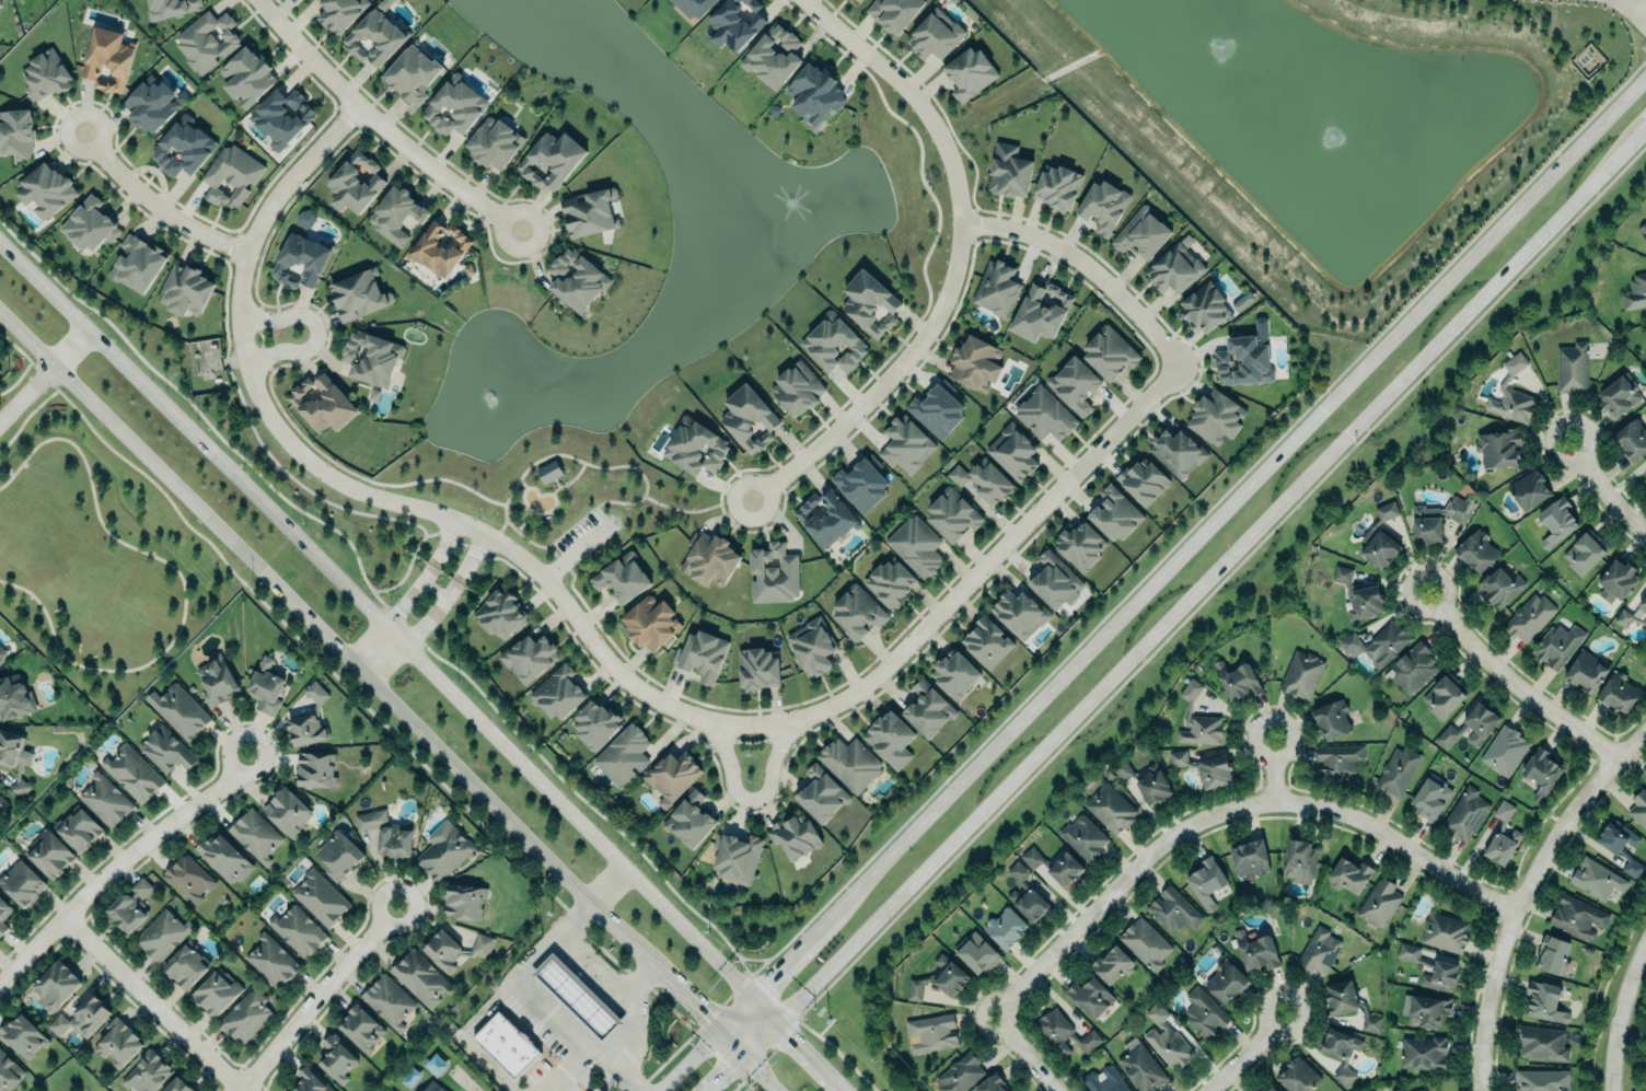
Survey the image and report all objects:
building: (857, 0)
building: (692, 7)
building: (171, 8)
road: (1635, 11)
building: (340, 12)
building: (893, 13)
building: (734, 23)
building: (935, 32)
building: (374, 35)
building: (206, 40)
fountain: (1212, 44)
building: (772, 53)
building: (107, 60)
building: (969, 72)
building: (410, 73)
building: (247, 74)
building: (44, 76)
building: (813, 92)
road: (912, 92)
building: (151, 103)
building: (454, 106)
building: (281, 117)
road: (378, 123)
fountain: (1310, 130)
building: (16, 132)
road: (1633, 138)
building: (492, 143)
building: (183, 146)
building: (549, 160)
road: (289, 167)
building: (1009, 170)
building: (230, 176)
building: (355, 183)
building: (1057, 186)
building: (46, 188)
road: (155, 202)
building: (1103, 205)
building: (589, 212)
building: (395, 213)
building: (304, 219)
building: (89, 224)
building: (1643, 230)
building: (1141, 232)
building: (440, 248)
building: (301, 258)
building: (137, 264)
road: (1080, 265)
building: (1174, 268)
building: (576, 278)
building: (185, 288)
building: (997, 288)
building: (1635, 292)
building: (358, 293)
building: (1242, 301)
building: (869, 303)
building: (1204, 305)
building: (1040, 312)
road: (314, 329)
building: (834, 345)
building: (1109, 349)
building: (370, 357)
building: (1243, 360)
building: (975, 363)
building: (1569, 367)
building: (0, 369)
road: (44, 376)
road: (883, 378)
building: (1074, 385)
building: (797, 390)
building: (1512, 394)
building: (1618, 396)
building: (321, 403)
building: (936, 410)
building: (1044, 411)
road: (23, 416)
building: (1216, 416)
building: (749, 419)
building: (1631, 439)
building: (905, 444)
building: (695, 448)
building: (1498, 448)
building: (1013, 451)
building: (1178, 451)
road: (3, 472)
building: (548, 472)
road: (644, 478)
building: (1645, 479)
building: (982, 480)
building: (1143, 480)
building: (861, 484)
building: (1528, 486)
road: (1602, 487)
road: (440, 509)
park: (572, 509)
road: (695, 511)
building: (1114, 514)
building: (951, 515)
building: (824, 517)
building: (1438, 519)
building: (1555, 521)
road: (500, 527)
road: (1197, 536)
building: (1380, 536)
building: (916, 545)
building: (1079, 545)
road: (447, 547)
building: (1475, 550)
building: (1584, 553)
building: (708, 559)
road: (473, 560)
road: (973, 568)
building: (773, 573)
building: (1618, 576)
building: (622, 577)
building: (1054, 580)
building: (890, 582)
road: (178, 584)
road: (1199, 587)
building: (1499, 587)
building: (1359, 595)
building: (857, 612)
building: (1020, 612)
building: (500, 613)
building: (1632, 615)
building: (1529, 616)
road: (392, 619)
building: (649, 623)
road: (415, 637)
building: (986, 640)
building: (1378, 643)
building: (1557, 645)
building: (812, 646)
building: (1, 652)
building: (702, 654)
building: (528, 657)
road: (424, 665)
building: (757, 668)
building: (1411, 669)
building: (1585, 671)
building: (954, 673)
building: (1300, 674)
building: (1237, 680)
building: (216, 681)
road: (1510, 682)
building: (265, 686)
building: (557, 692)
building: (1615, 694)
building: (14, 697)
building: (1442, 697)
road: (391, 699)
building: (928, 709)
building: (178, 710)
road: (371, 718)
building: (1332, 718)
building: (1198, 719)
building: (594, 723)
building: (1467, 724)
building: (305, 729)
building: (890, 739)
building: (165, 750)
building: (1505, 750)
building: (623, 755)
building: (1175, 757)
building: (13, 758)
building: (1337, 761)
building: (849, 763)
road: (1272, 767)
building: (315, 769)
building: (1213, 770)
building: (1398, 770)
building: (132, 773)
building: (1541, 773)
building: (671, 775)
building: (1144, 781)
building: (821, 793)
road: (744, 794)
building: (1430, 798)
building: (104, 799)
building: (2, 803)
road: (1228, 804)
building: (1110, 808)
building: (1638, 809)
building: (286, 811)
building: (1465, 814)
building: (688, 820)
building: (78, 828)
building: (255, 834)
building: (795, 836)
building: (1502, 836)
building: (1082, 837)
building: (394, 839)
building: (1620, 846)
building: (48, 852)
building: (443, 852)
building: (338, 856)
building: (223, 857)
building: (735, 857)
building: (1249, 858)
building: (1299, 860)
road: (118, 861)
building: (1055, 866)
building: (1347, 874)
building: (188, 877)
building: (1597, 879)
building: (1206, 882)
building: (22, 883)
road: (1520, 889)
building: (1025, 894)
building: (321, 897)
building: (464, 902)
building: (1378, 903)
building: (130, 906)
building: (1173, 909)
building: (3, 915)
building: (1577, 917)
building: (1005, 927)
building: (298, 930)
building: (1444, 931)
building: (161, 936)
building: (1145, 943)
building: (455, 949)
building: (1256, 951)
building: (1318, 951)
building: (975, 952)
building: (1554, 955)
building: (271, 961)
road: (594, 962)
building: (1111, 963)
building: (185, 965)
building: (1444, 966)
building: (420, 978)
building: (938, 978)
road: (521, 979)
building: (1226, 982)
building: (55, 985)
building: (216, 994)
traffic signals: (751, 996)
building: (1089, 996)
road: (312, 997)
building: (577, 998)
building: (387, 1000)
building: (1543, 1002)
road: (148, 1003)
building: (1347, 1003)
building: (1425, 1009)
building: (1202, 1012)
road: (1622, 1014)
building: (245, 1015)
building: (82, 1017)
traffic signals: (777, 1021)
road: (626, 1026)
building: (361, 1029)
traffic signals: (719, 1031)
building: (1063, 1032)
road: (462, 1033)
building: (22, 1034)
building: (930, 1034)
building: (1167, 1040)
building: (118, 1042)
road: (1638, 1042)
building: (1542, 1043)
road: (706, 1044)
building: (506, 1045)
road: (1029, 1049)
road: (605, 1052)
road: (1242, 1052)
building: (1417, 1052)
building: (1341, 1053)
road: (743, 1055)
traffic signals: (743, 1056)
building: (336, 1058)
road: (761, 1063)
building: (1139, 1066)
building: (9, 1072)
building: (146, 1072)
building: (959, 1073)
building: (1298, 1076)
building: (311, 1080)
building: (1103, 1080)
building: (1542, 1080)
building: (990, 1083)
building: (177, 1086)
building: (433, 1087)
building: (596, 1089)
building: (1270, 1089)
building: (1261, 1090)
building: (1398, 1090)

